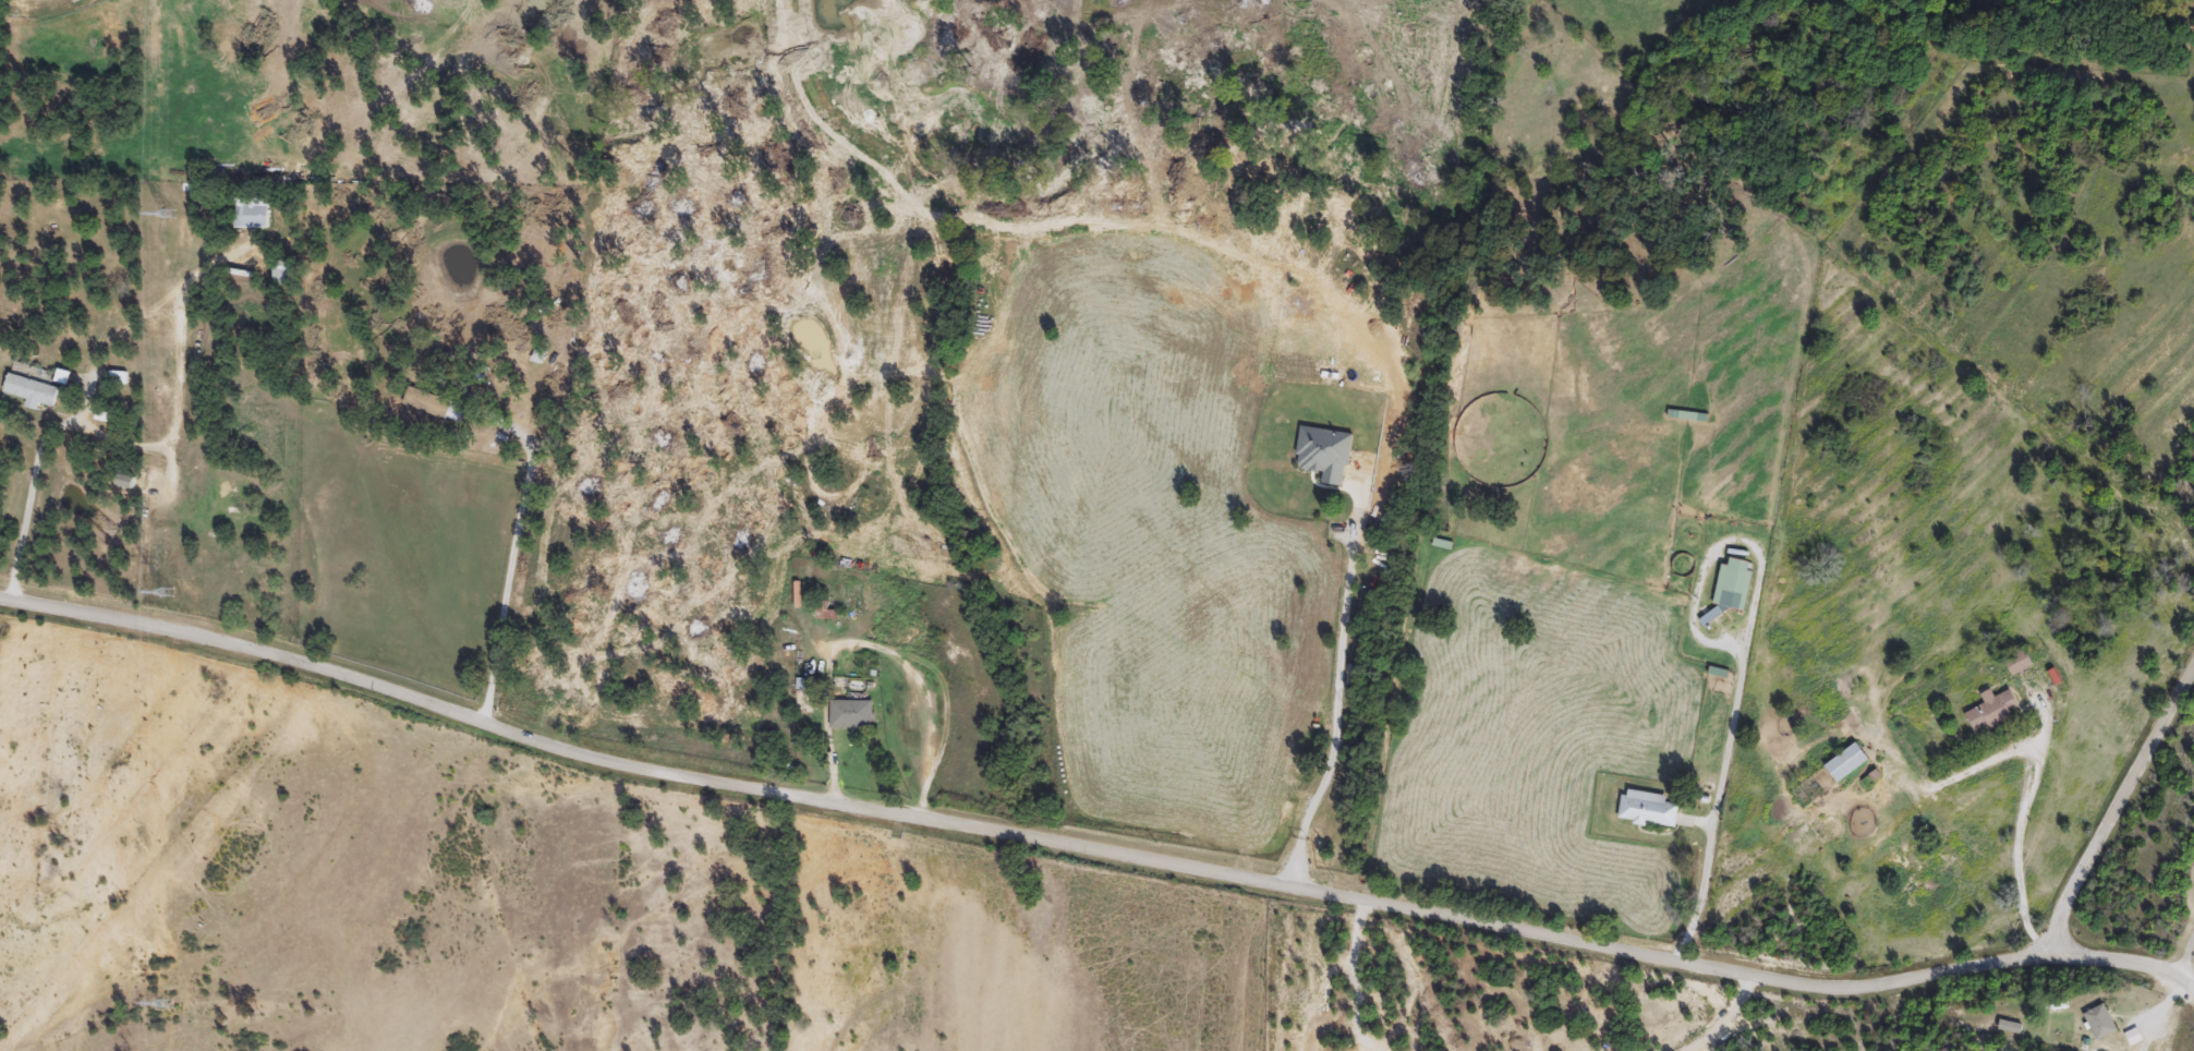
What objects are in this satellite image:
power tower: (165, 210)
building: (254, 215)
building: (286, 274)
building: (120, 378)
building: (34, 390)
building: (428, 404)
road: (175, 440)
road: (508, 589)
building: (1733, 589)
power tower: (168, 599)
building: (828, 616)
road: (884, 647)
building: (2021, 664)
road: (1334, 696)
building: (1995, 711)
building: (853, 715)
building: (1848, 763)
road: (2032, 765)
road: (1712, 804)
road: (2113, 808)
building: (1649, 810)
road: (1015, 838)
road: (2183, 947)
road: (2121, 958)
power tower: (167, 1007)
road: (1719, 1016)
building: (2101, 1023)

